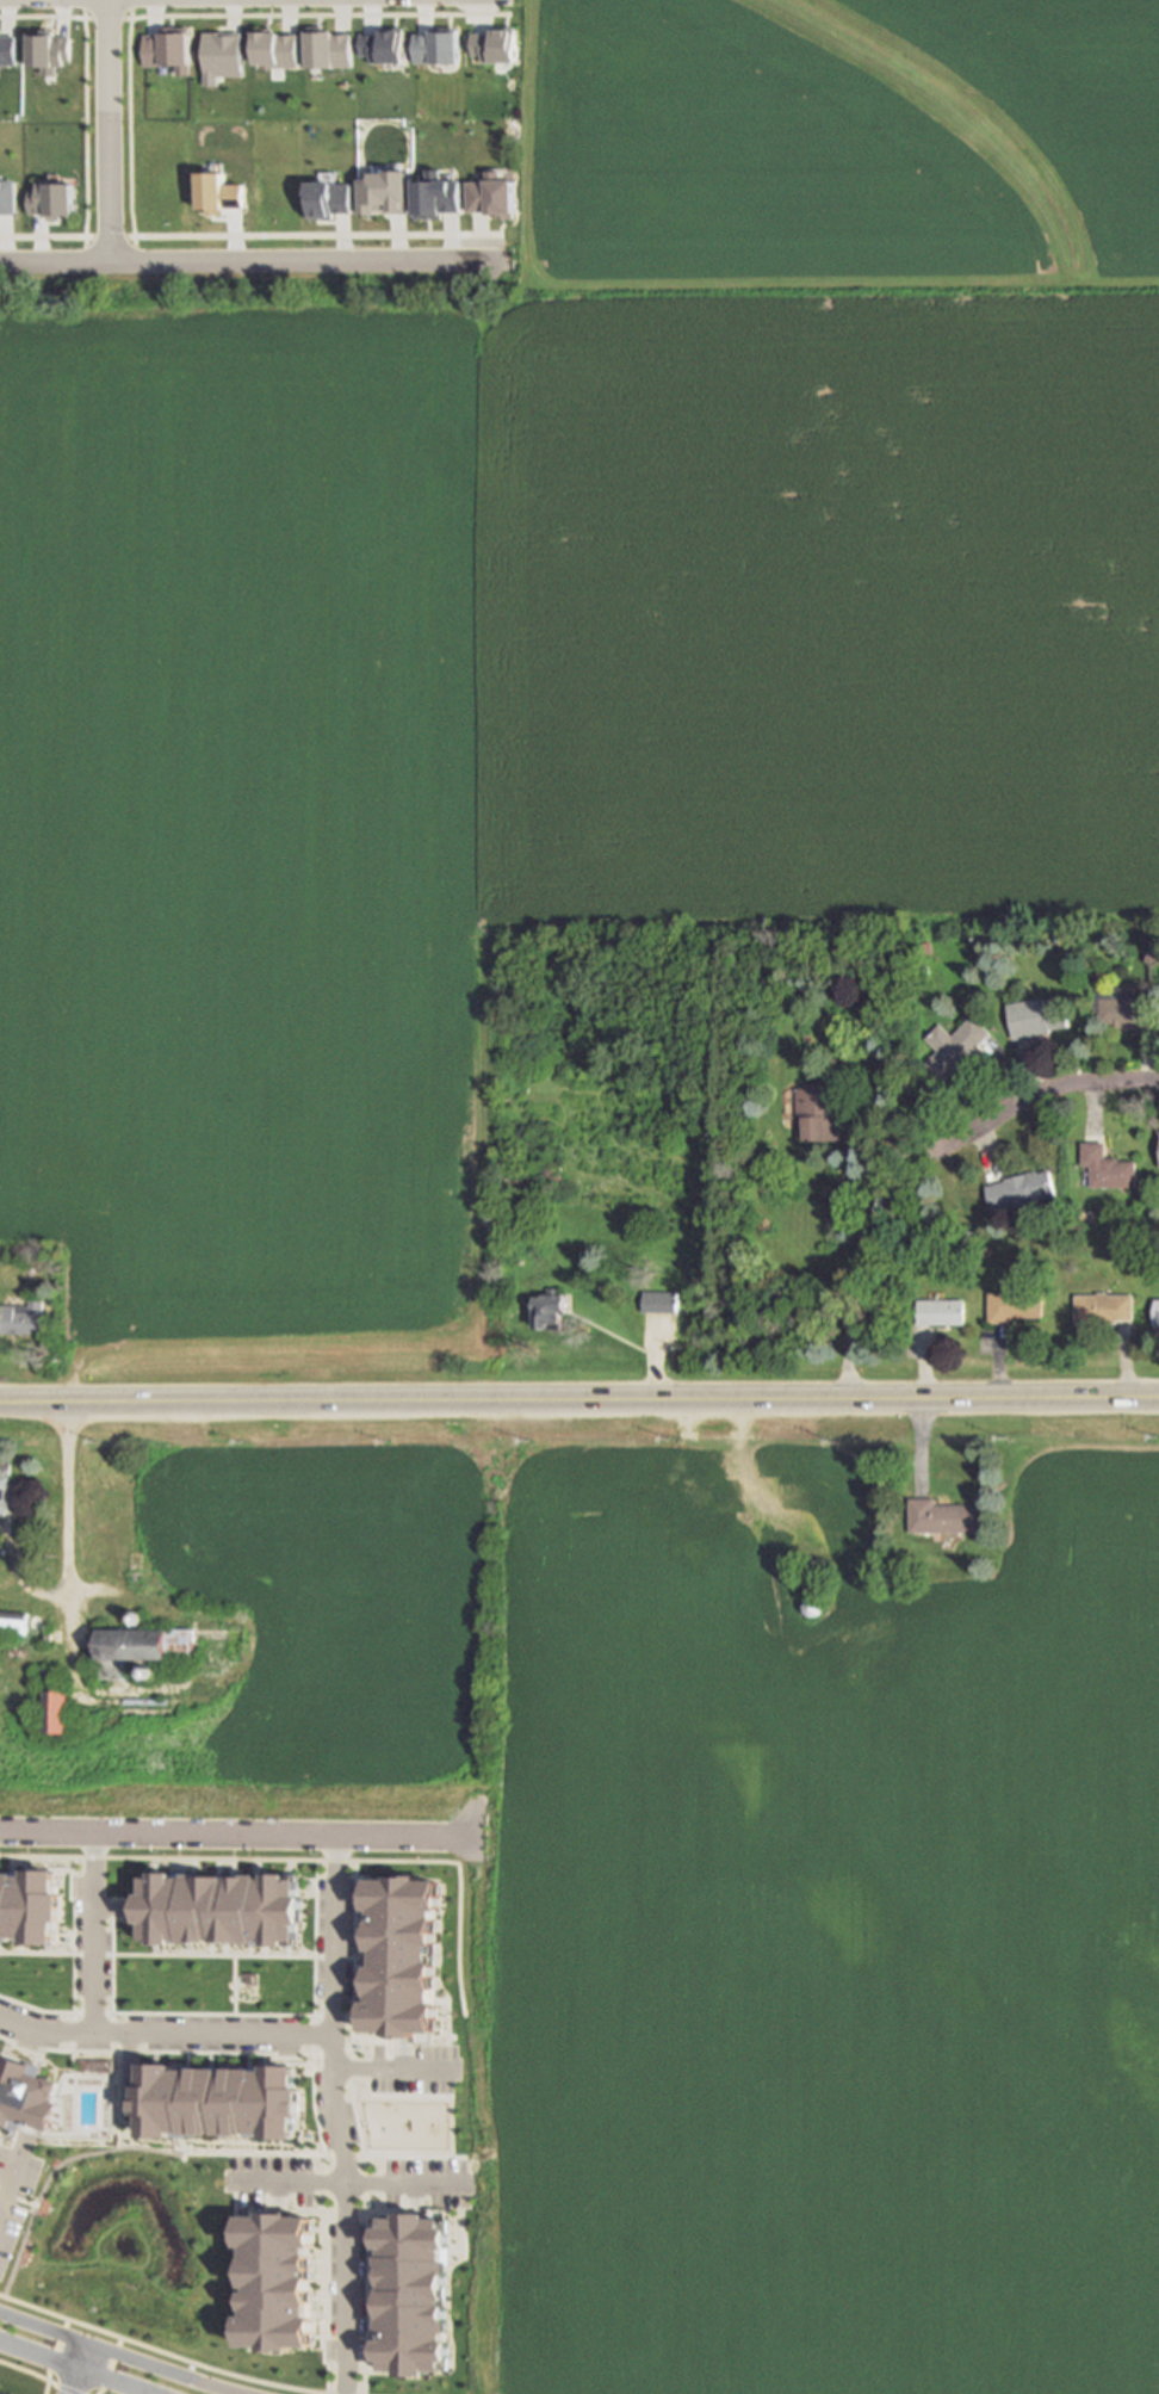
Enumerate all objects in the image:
road: (110, 129)
crop: (844, 146)
building: (384, 192)
building: (219, 193)
building: (436, 196)
building: (491, 196)
building: (8, 197)
building: (328, 199)
building: (52, 200)
road: (254, 259)
crop: (509, 718)
building: (1126, 1008)
building: (1036, 1020)
building: (955, 1047)
road: (1036, 1095)
building: (822, 1113)
building: (1107, 1168)
building: (1021, 1190)
road: (856, 1256)
building: (661, 1303)
building: (1016, 1307)
building: (1105, 1310)
building: (551, 1311)
building: (941, 1313)
building: (1157, 1314)
building: (24, 1317)
road: (578, 1399)
building: (7, 1489)
building: (943, 1518)
building: (812, 1576)
building: (814, 1608)
building: (14, 1622)
building: (140, 1651)
building: (58, 1713)
road: (238, 1827)
building: (29, 1910)
building: (216, 1912)
crop: (822, 1917)
road: (93, 1928)
building: (399, 1960)
road: (163, 2029)
building: (224, 2092)
building: (25, 2098)
road: (331, 2111)
parking lot: (265, 2176)
road: (280, 2180)
road: (11, 2182)
road: (397, 2182)
building: (271, 2290)
building: (408, 2300)
road: (43, 2331)
road: (99, 2332)
road: (51, 2350)
road: (39, 2356)
road: (107, 2367)
road: (78, 2371)
road: (165, 2371)
road: (24, 2373)
road: (112, 2382)
road: (45, 2388)
road: (61, 2388)
building: (6, 2392)

